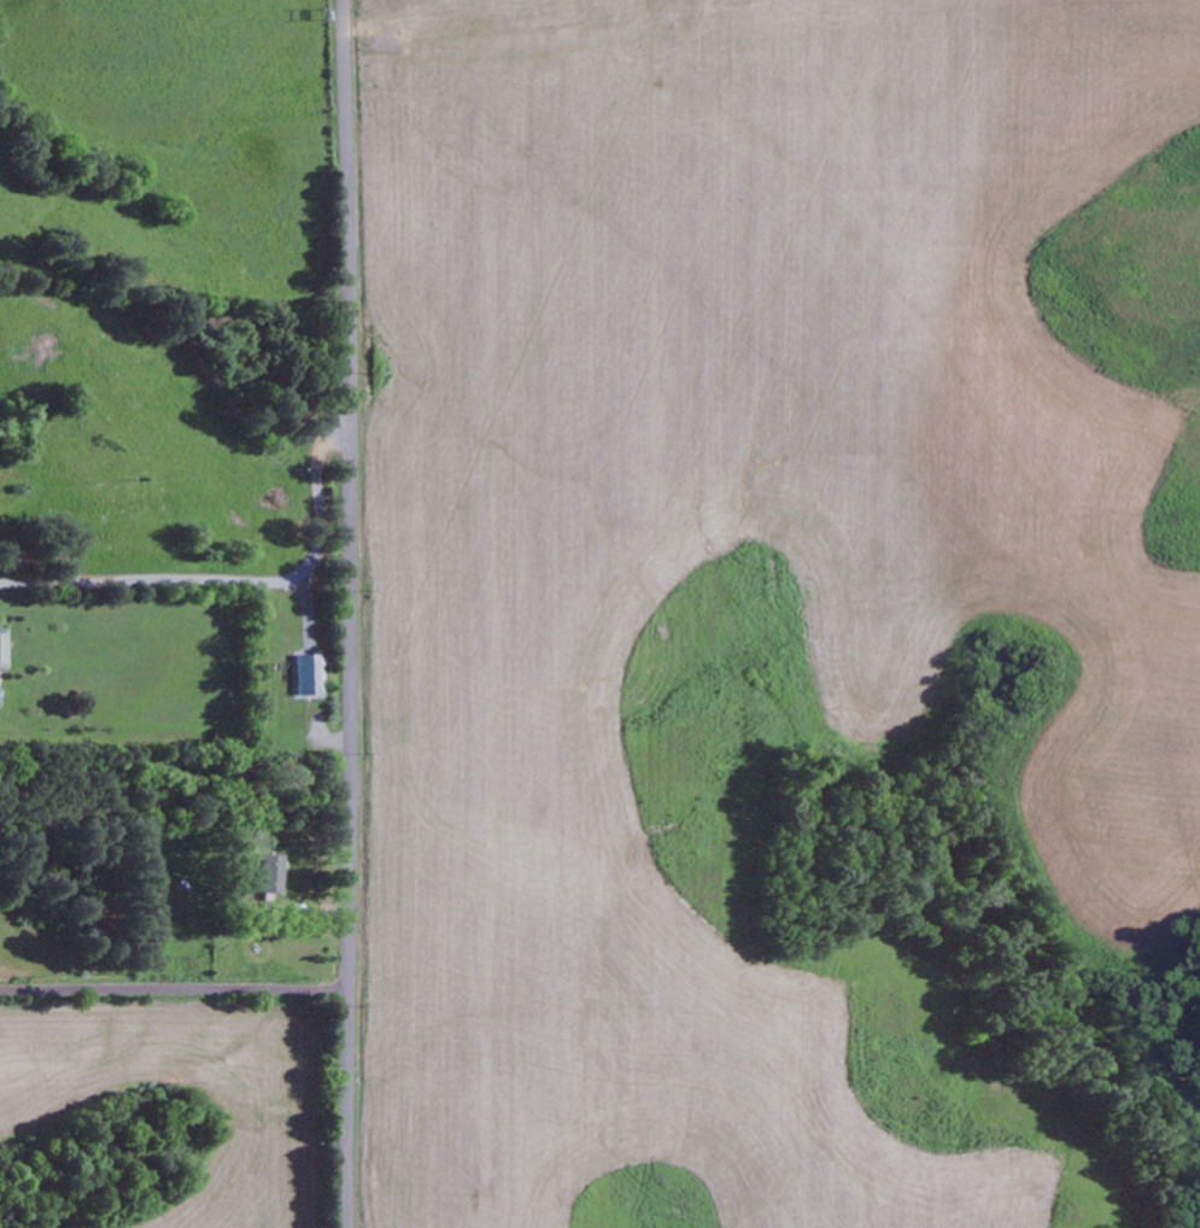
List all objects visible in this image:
road: (170, 304)
road: (349, 613)
building: (2, 648)
building: (309, 673)
building: (270, 876)
road: (172, 988)

